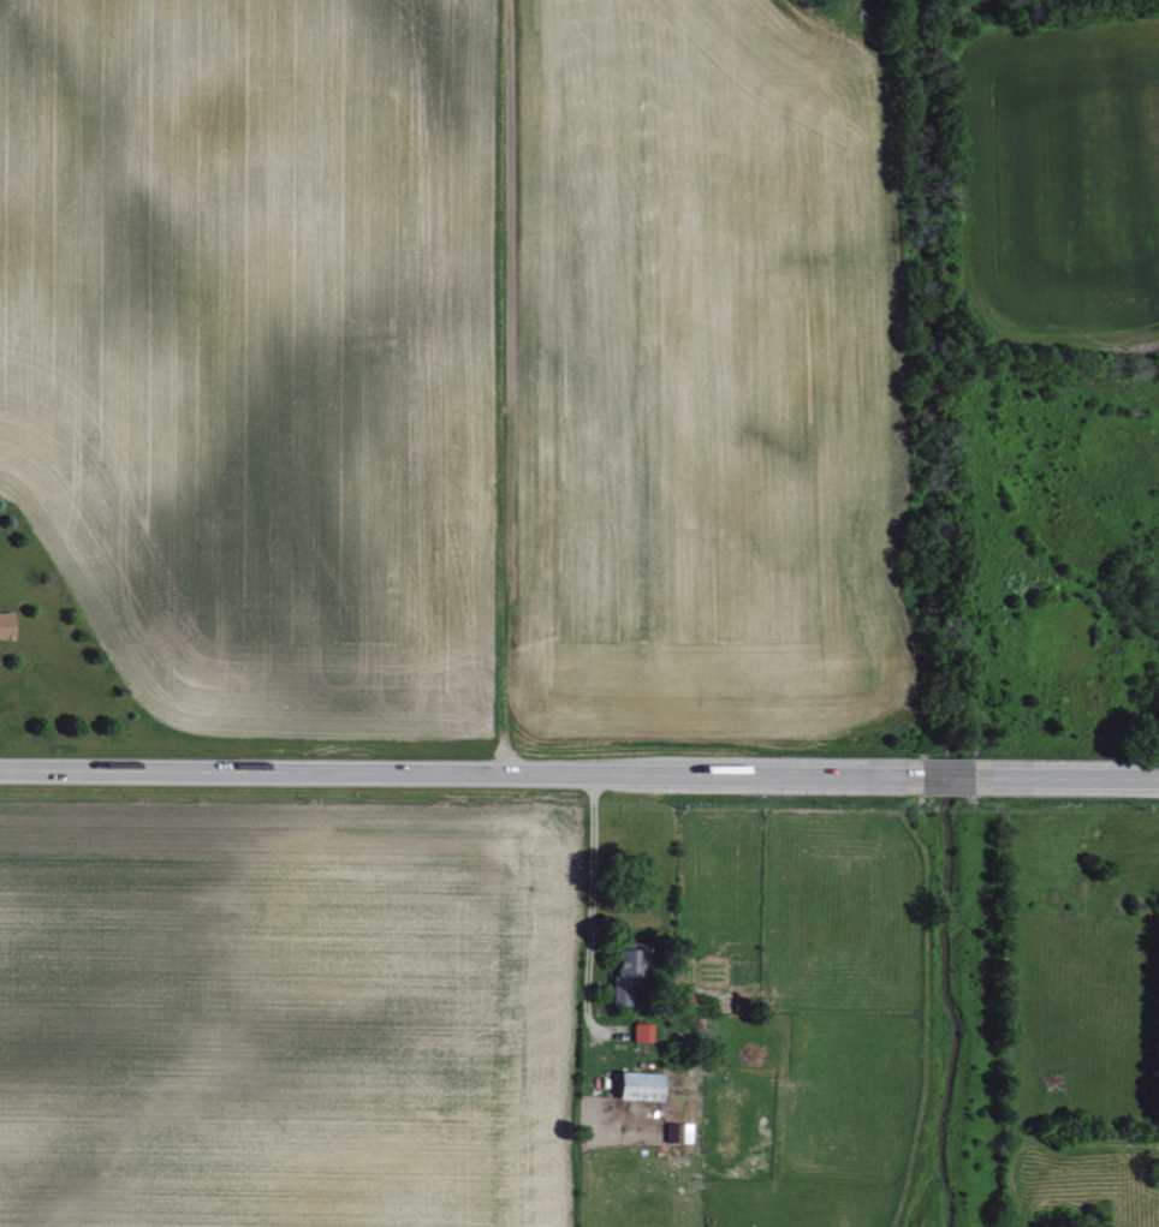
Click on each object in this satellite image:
building: (7, 626)
road: (579, 776)
road: (590, 910)
building: (629, 975)
building: (643, 1032)
building: (642, 1086)
building: (678, 1133)

